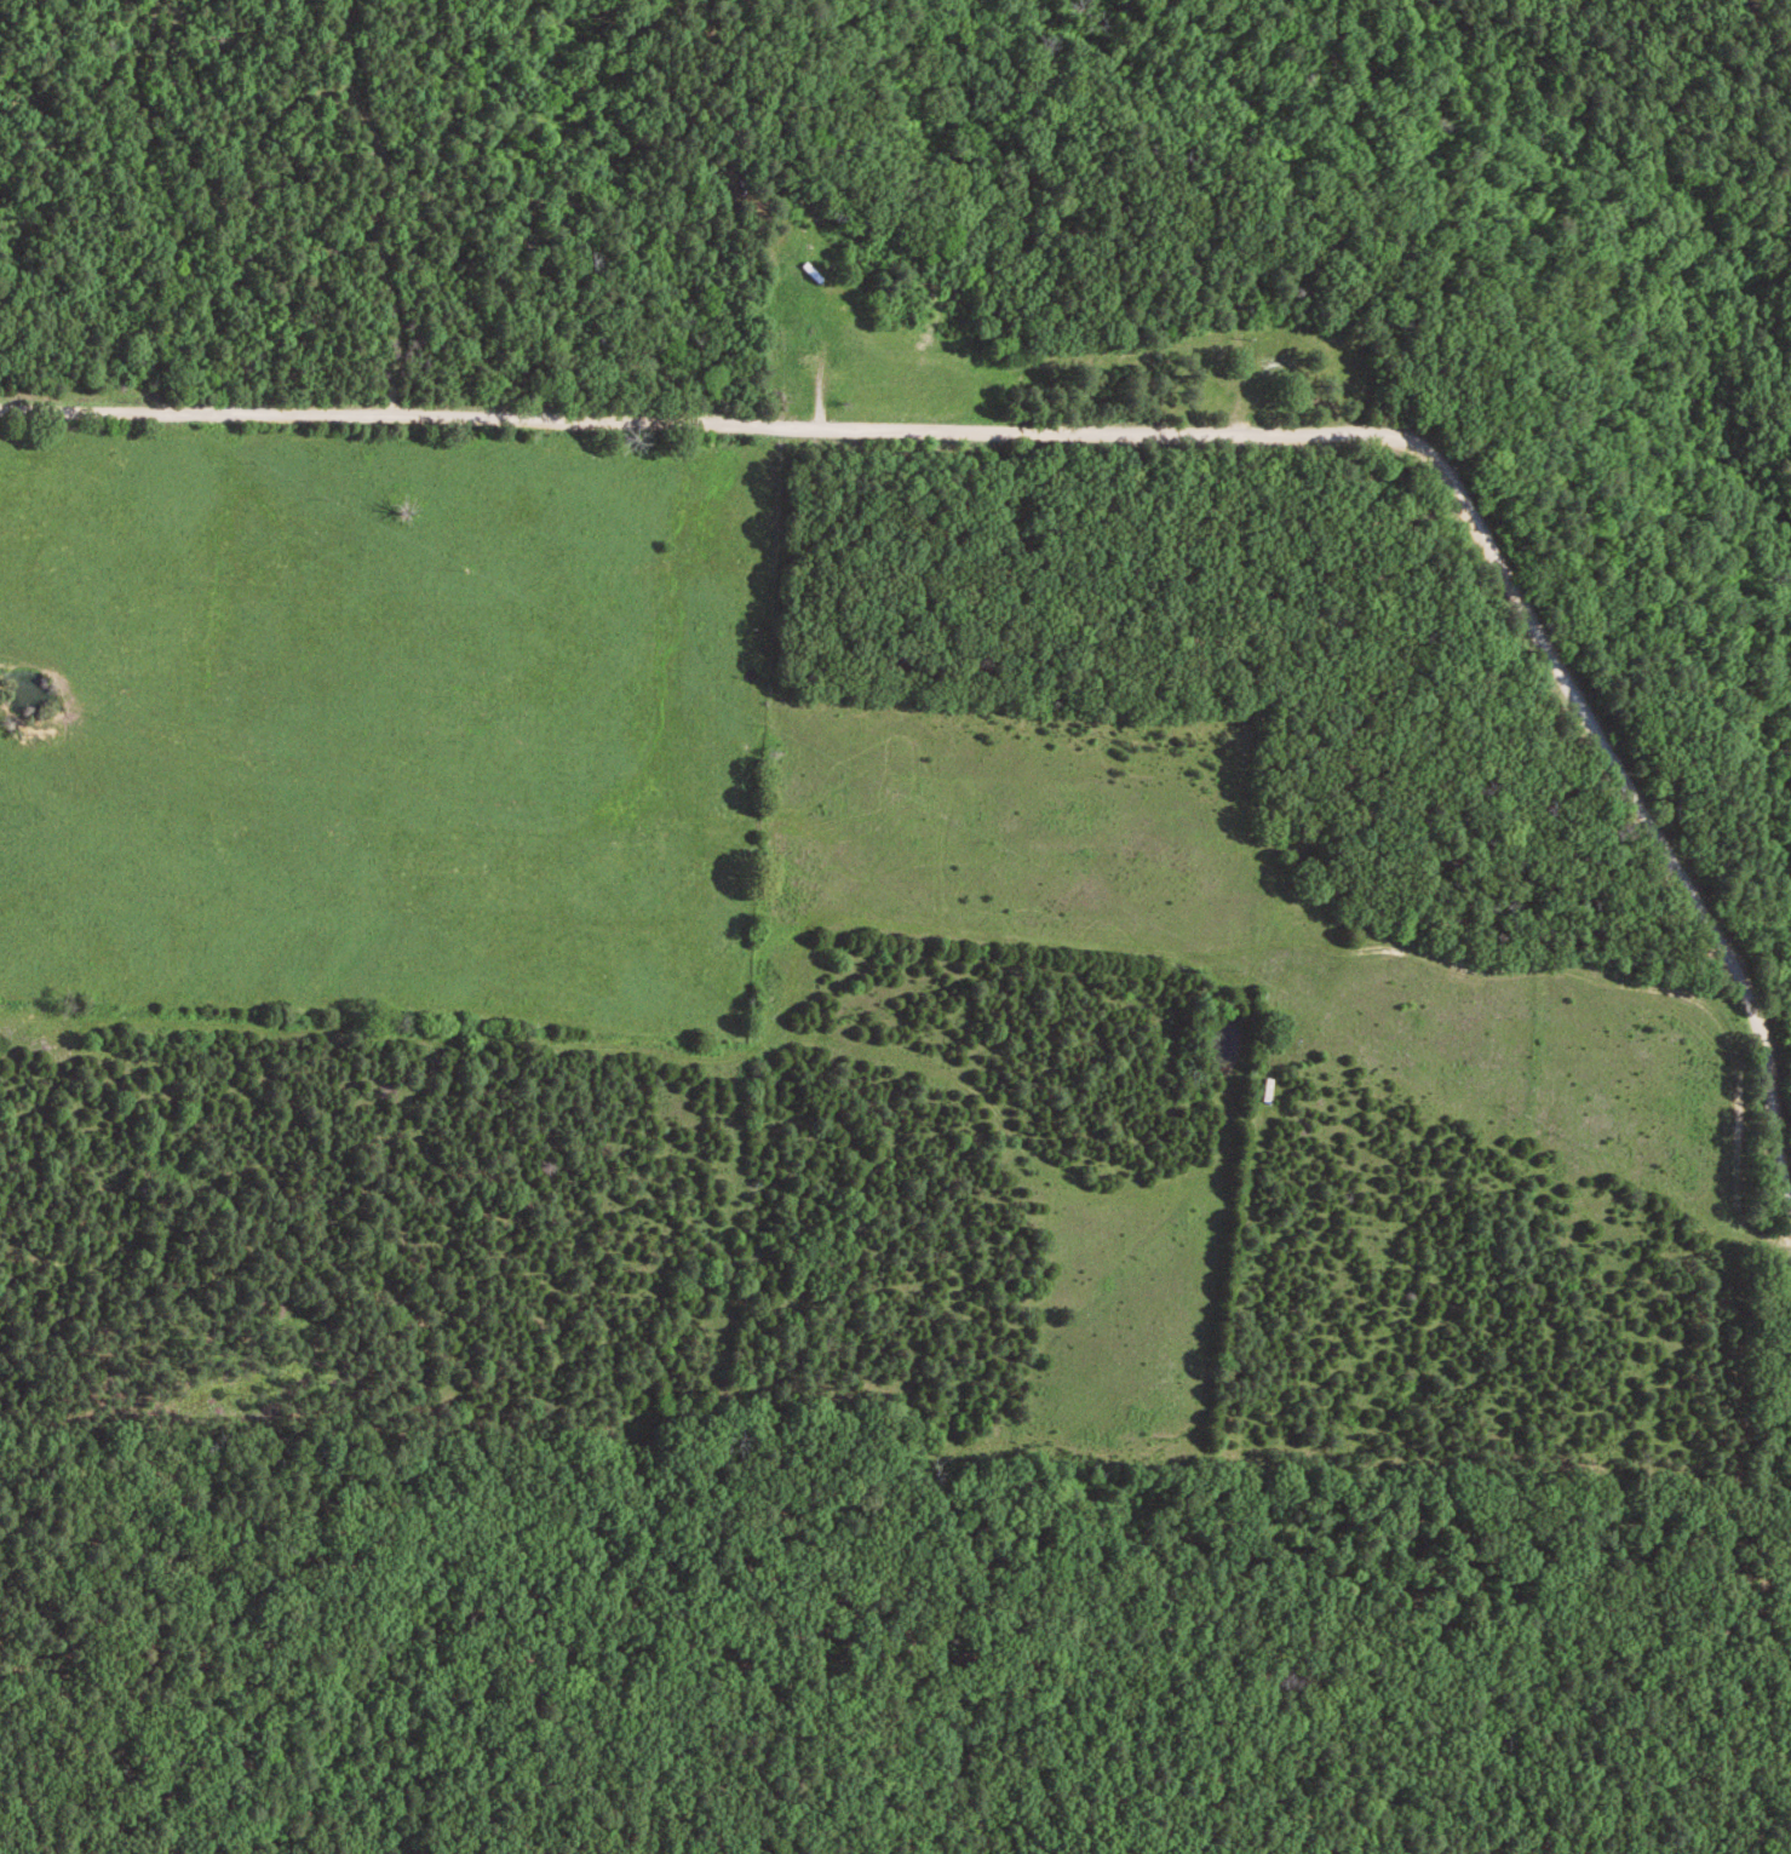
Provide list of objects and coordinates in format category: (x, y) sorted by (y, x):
road: (810, 383)
road: (1142, 432)

